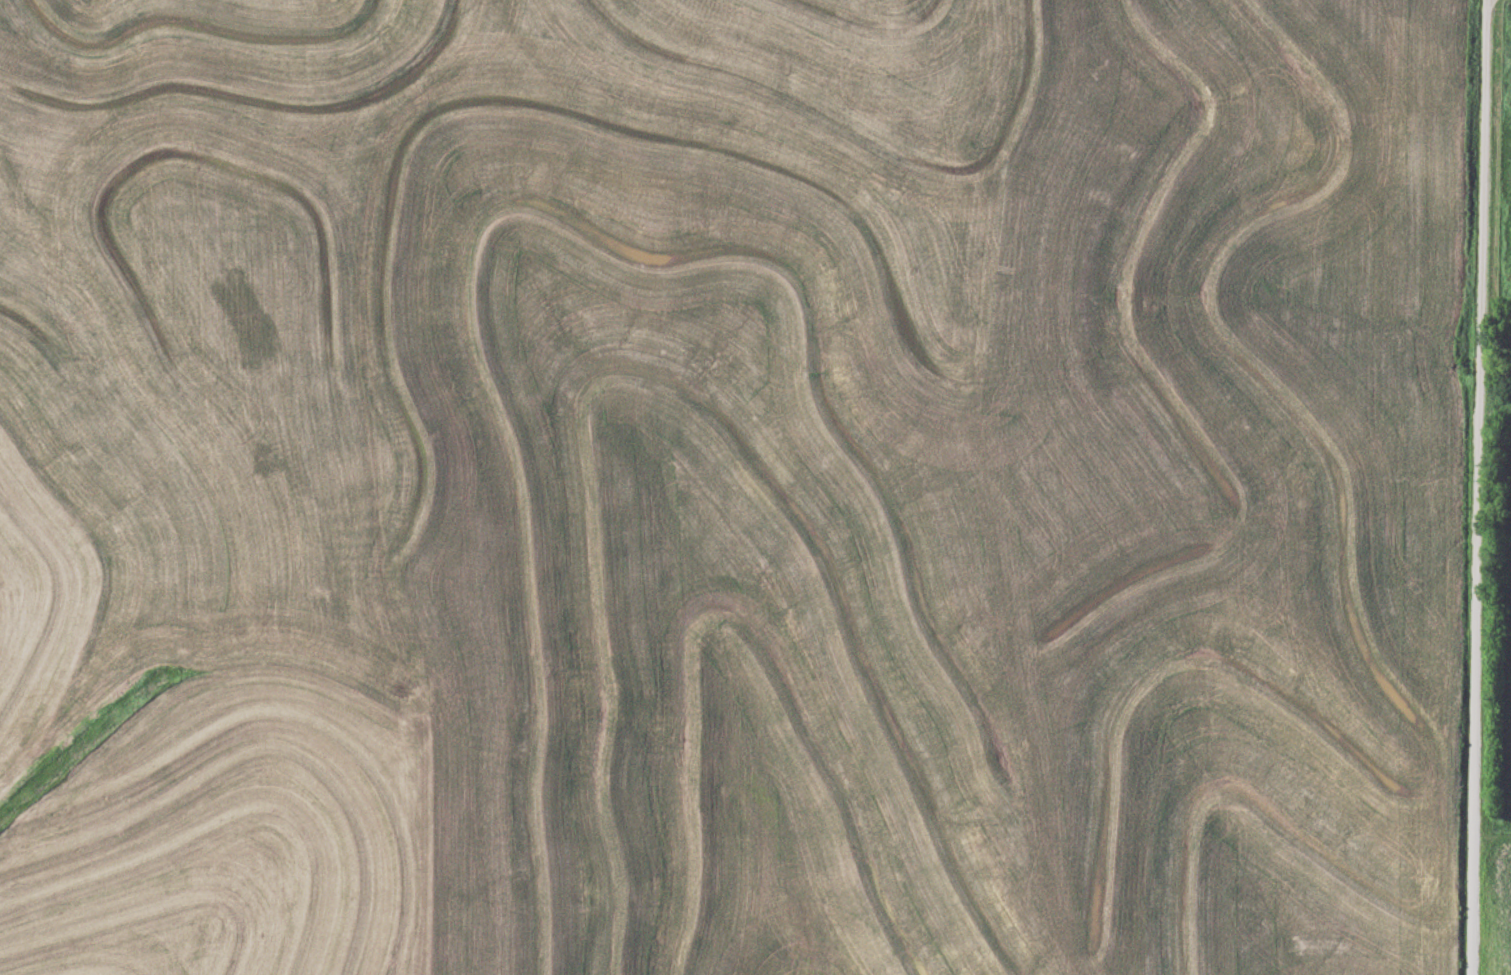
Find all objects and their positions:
road: (1473, 487)

